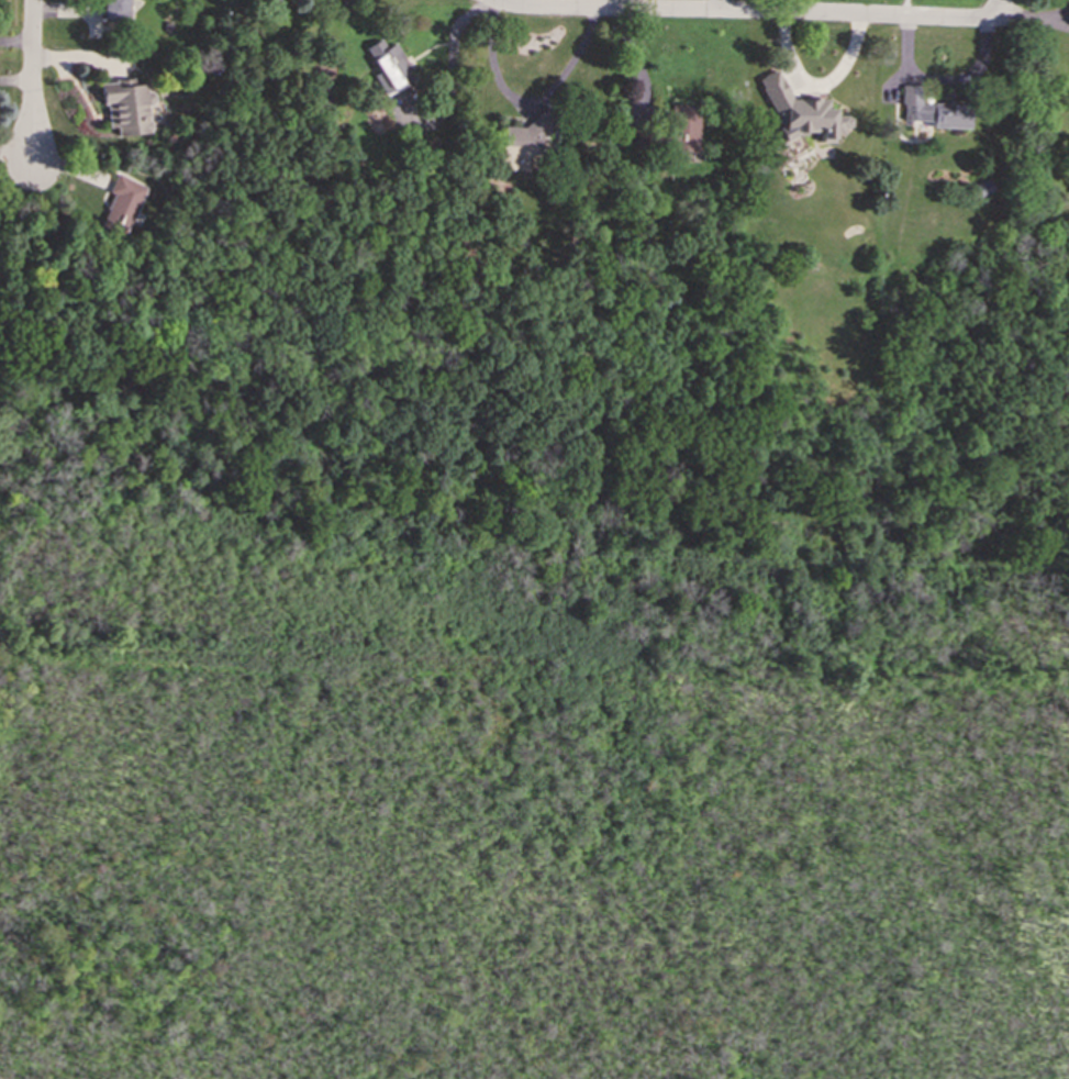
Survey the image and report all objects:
road: (999, 3)
building: (116, 9)
road: (753, 12)
road: (1034, 16)
road: (15, 43)
building: (390, 67)
road: (943, 78)
road: (31, 79)
road: (15, 82)
road: (814, 86)
road: (526, 102)
building: (127, 105)
building: (934, 110)
building: (801, 112)
building: (684, 129)
road: (15, 157)
building: (123, 201)

